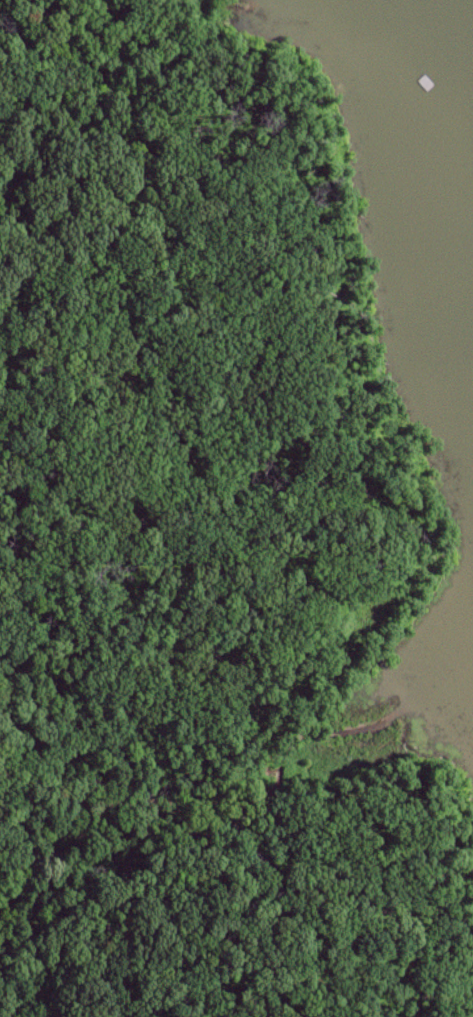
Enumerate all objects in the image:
road: (305, 819)

